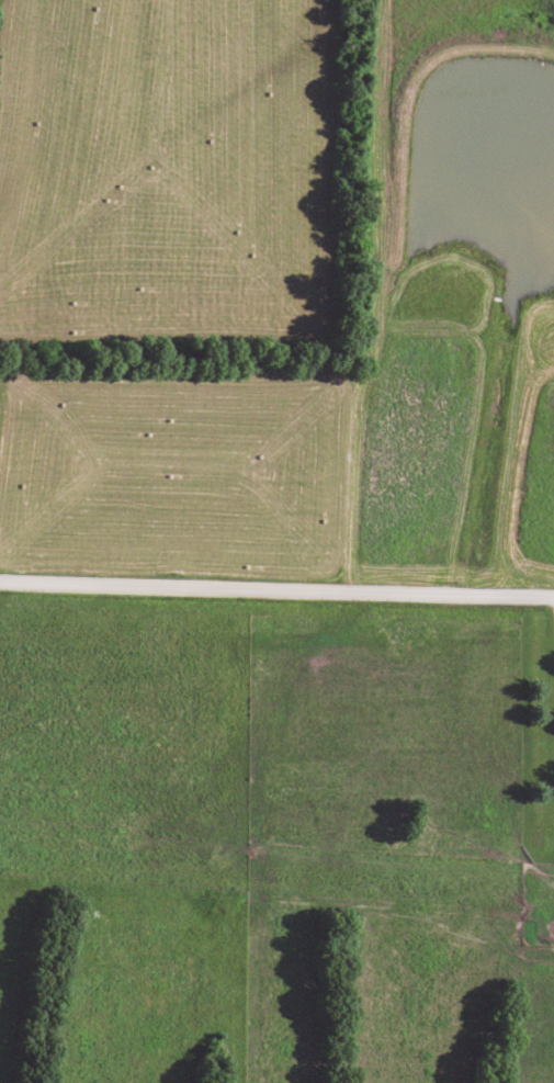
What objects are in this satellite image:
road: (276, 585)
road: (553, 634)

